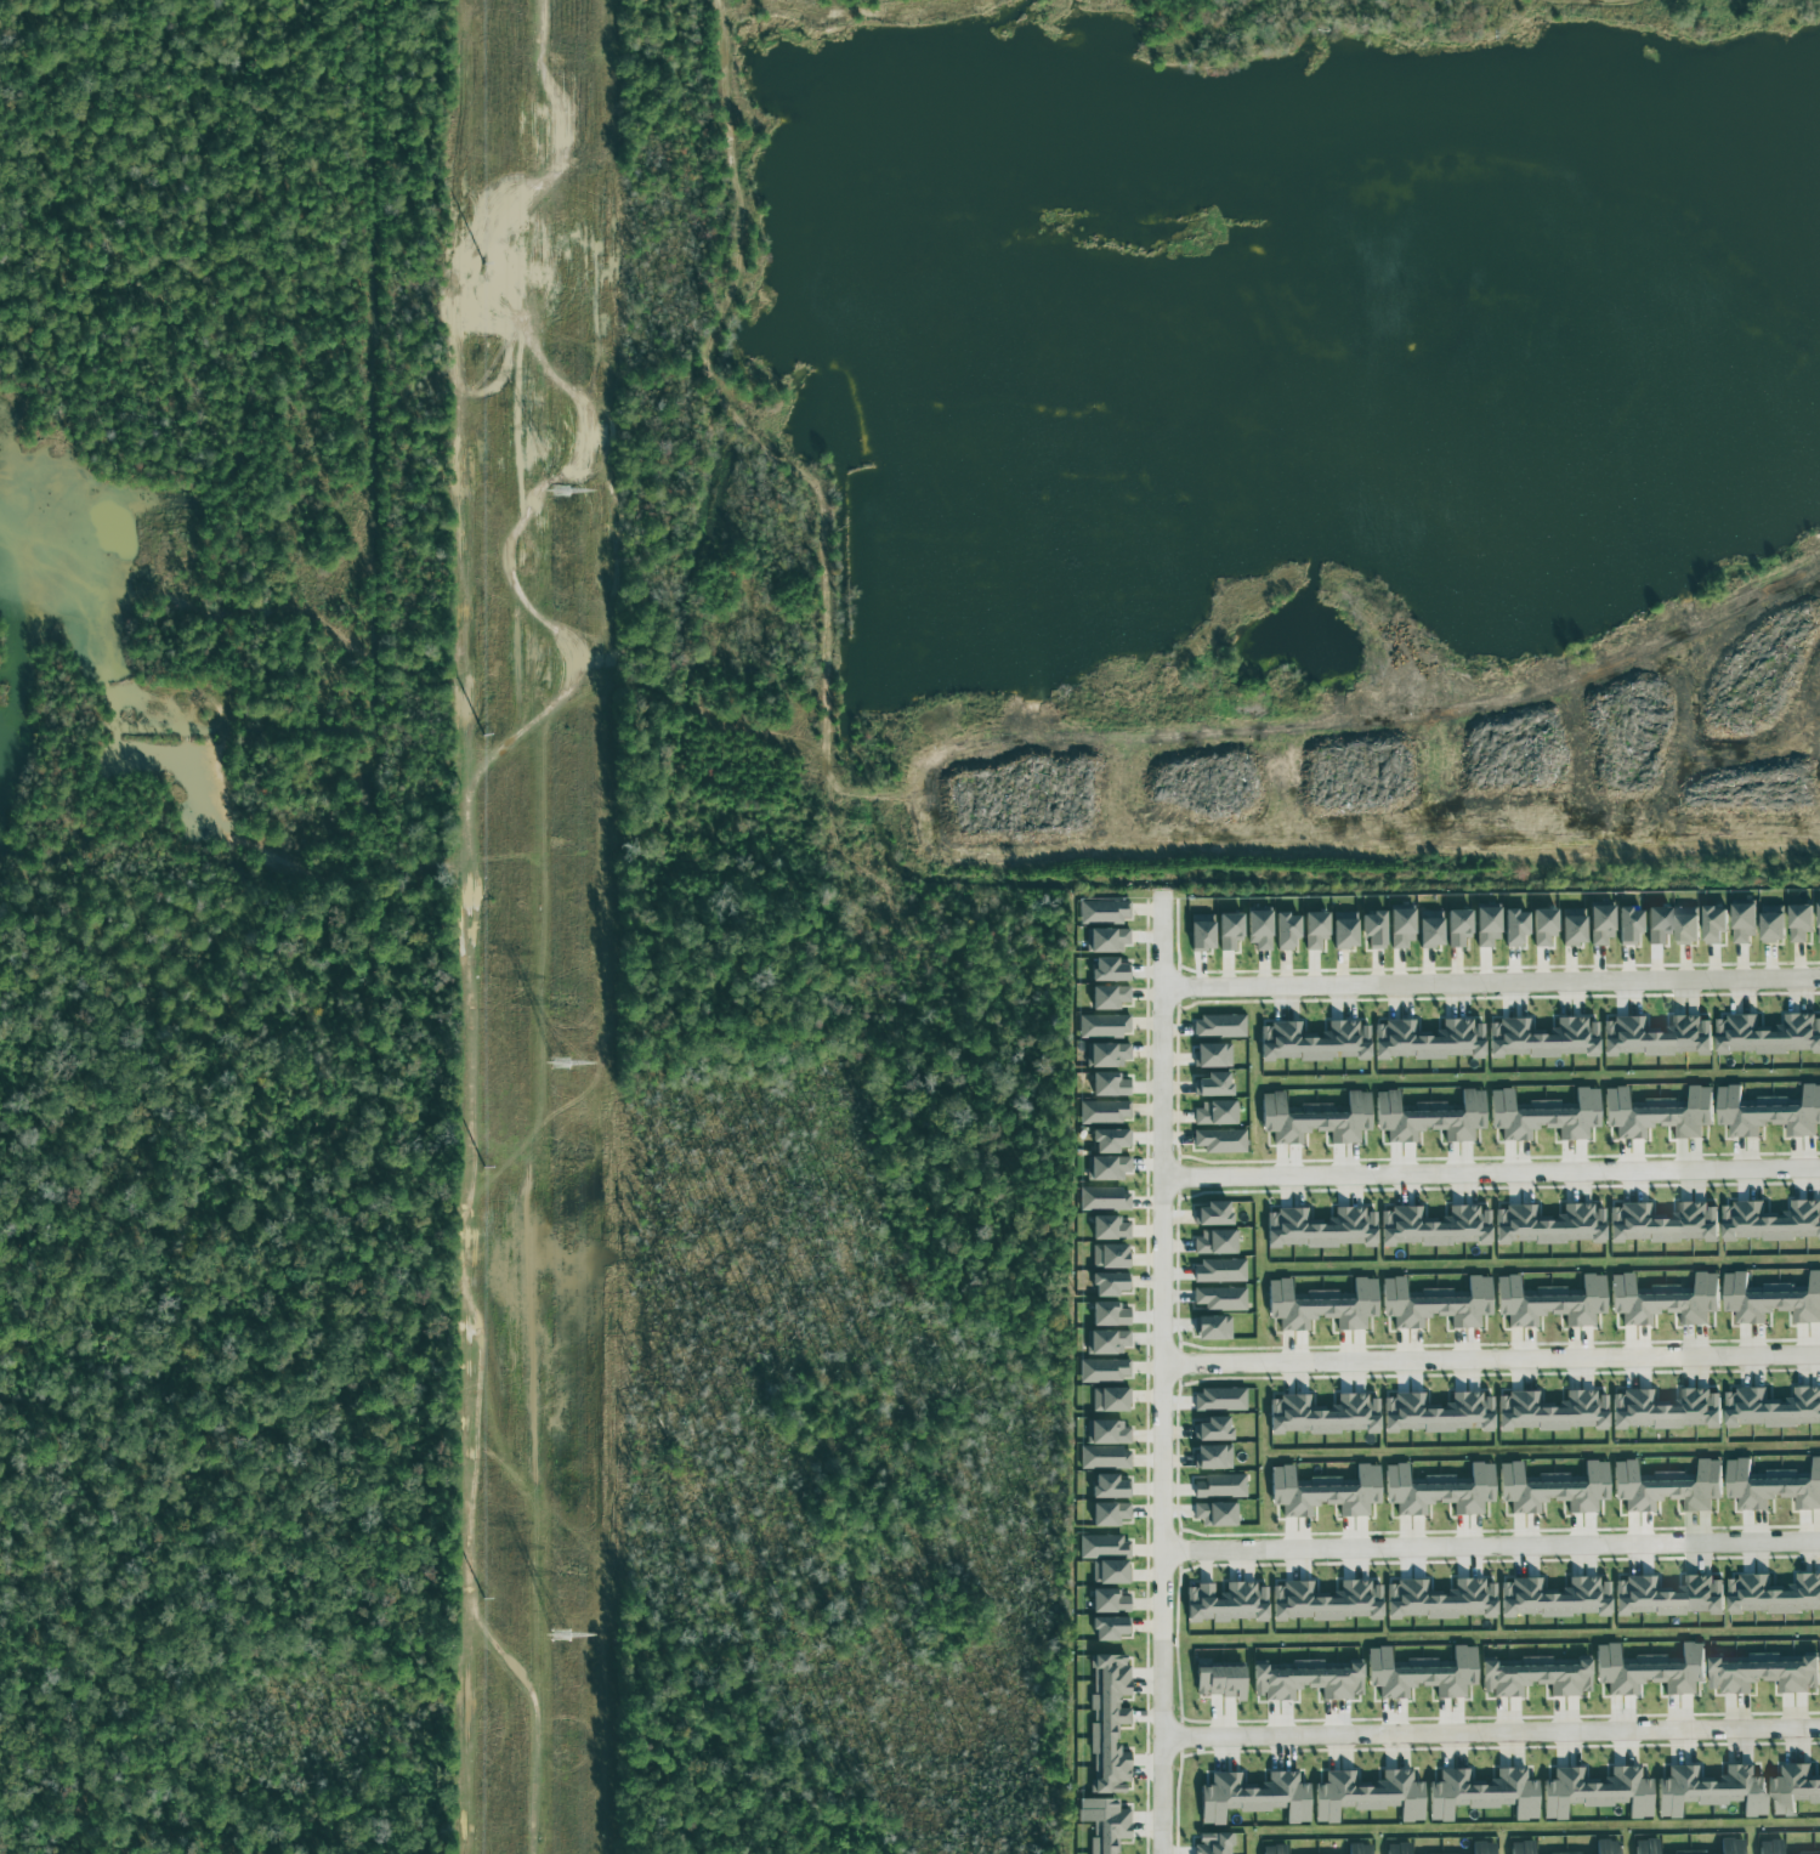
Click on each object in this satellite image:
power tower: (560, 493)
building: (1102, 911)
building: (1799, 922)
building: (1819, 922)
building: (1742, 923)
building: (1771, 923)
building: (1656, 924)
building: (1685, 924)
building: (1713, 924)
building: (1485, 925)
building: (1599, 925)
building: (1628, 925)
building: (1513, 926)
building: (1542, 926)
building: (1571, 926)
building: (1457, 928)
building: (1258, 929)
building: (1314, 929)
building: (1372, 929)
building: (1399, 929)
building: (1428, 929)
building: (1227, 930)
building: (1285, 930)
building: (1343, 930)
building: (1200, 932)
building: (1106, 940)
building: (1109, 970)
road: (1491, 980)
building: (1107, 997)
building: (1104, 1026)
building: (1218, 1026)
building: (1768, 1034)
building: (1655, 1037)
building: (1542, 1038)
building: (1427, 1039)
building: (1314, 1041)
building: (1109, 1054)
building: (1212, 1055)
power tower: (560, 1067)
building: (1107, 1084)
building: (1212, 1084)
building: (1104, 1111)
building: (1768, 1112)
building: (1214, 1113)
building: (1657, 1113)
building: (1543, 1115)
building: (1430, 1116)
building: (1316, 1118)
building: (1109, 1140)
building: (1219, 1140)
building: (1107, 1168)
road: (1491, 1172)
building: (1102, 1198)
building: (1212, 1214)
building: (1770, 1221)
building: (1661, 1223)
building: (1547, 1225)
building: (1433, 1226)
building: (1107, 1228)
building: (1319, 1229)
building: (1213, 1242)
building: (1109, 1255)
building: (1218, 1271)
building: (1107, 1283)
building: (1219, 1299)
building: (1770, 1299)
building: (1663, 1300)
building: (1548, 1302)
building: (1434, 1304)
building: (1320, 1305)
building: (1107, 1315)
building: (1212, 1328)
building: (1106, 1342)
road: (1492, 1357)
building: (1102, 1371)
road: (1166, 1372)
building: (1109, 1400)
building: (1218, 1400)
building: (1773, 1408)
building: (1665, 1410)
building: (1549, 1411)
building: (1435, 1413)
building: (1322, 1416)
building: (1212, 1429)
building: (1107, 1433)
building: (1212, 1457)
building: (1102, 1458)
building: (1219, 1486)
building: (1666, 1486)
building: (1771, 1486)
building: (1109, 1487)
building: (1552, 1489)
building: (1438, 1491)
building: (1322, 1492)
building: (1107, 1514)
building: (1215, 1514)
building: (1104, 1547)
road: (1492, 1547)
building: (1109, 1572)
building: (1773, 1595)
building: (1668, 1597)
building: (1553, 1598)
building: (1439, 1600)
building: (1107, 1601)
building: (1323, 1601)
building: (1225, 1603)
building: (1109, 1628)
power tower: (566, 1640)
building: (1648, 1669)
building: (1419, 1674)
building: (1761, 1674)
building: (1535, 1677)
building: (1217, 1680)
building: (1305, 1680)
building: (1107, 1724)
road: (1491, 1733)
building: (1793, 1790)
building: (1710, 1791)
building: (1595, 1792)
building: (1481, 1793)
building: (1367, 1796)
building: (1253, 1797)
building: (1102, 1824)
building: (1213, 1843)
building: (1730, 1846)
building: (1520, 1847)
building: (1605, 1847)
building: (1645, 1847)
building: (1769, 1847)
building: (1482, 1848)
building: (1272, 1849)
building: (1357, 1849)
building: (1396, 1849)
building: (1686, 1852)
building: (1564, 1853)
building: (1808, 1853)

